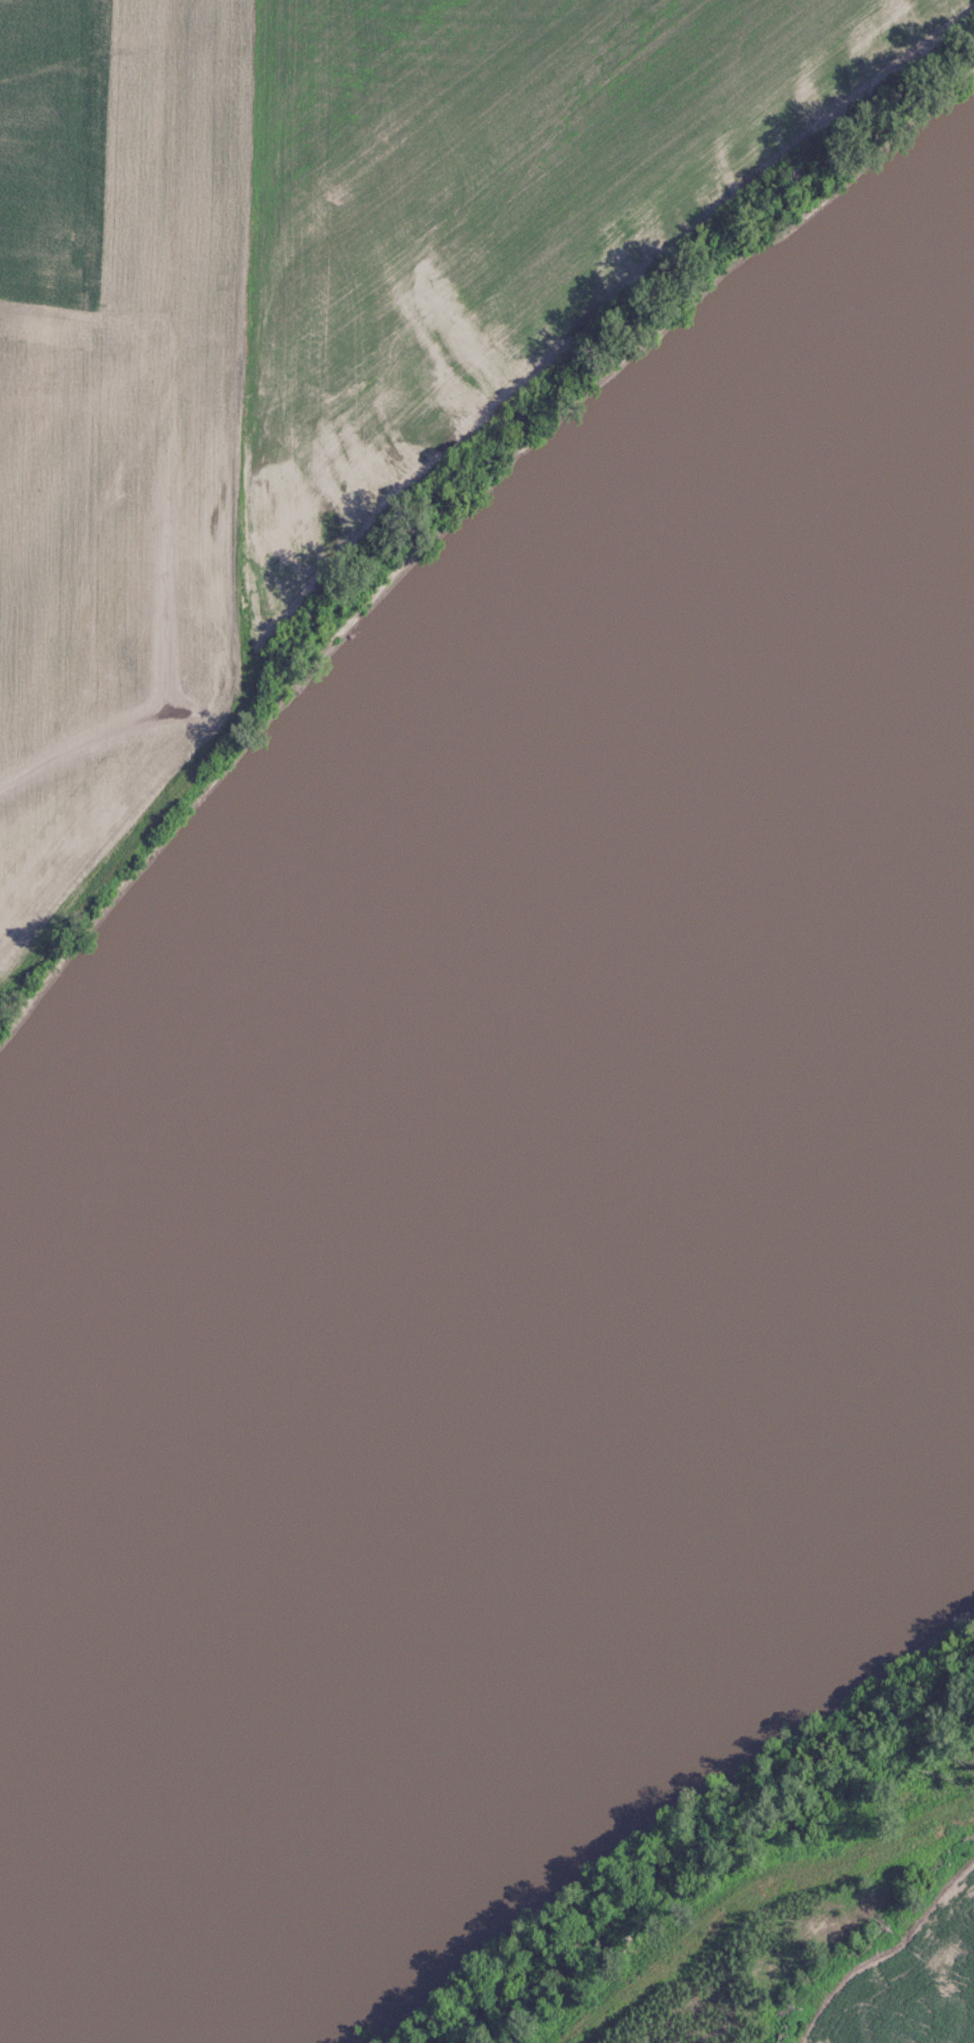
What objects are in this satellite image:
river: (487, 1335)

